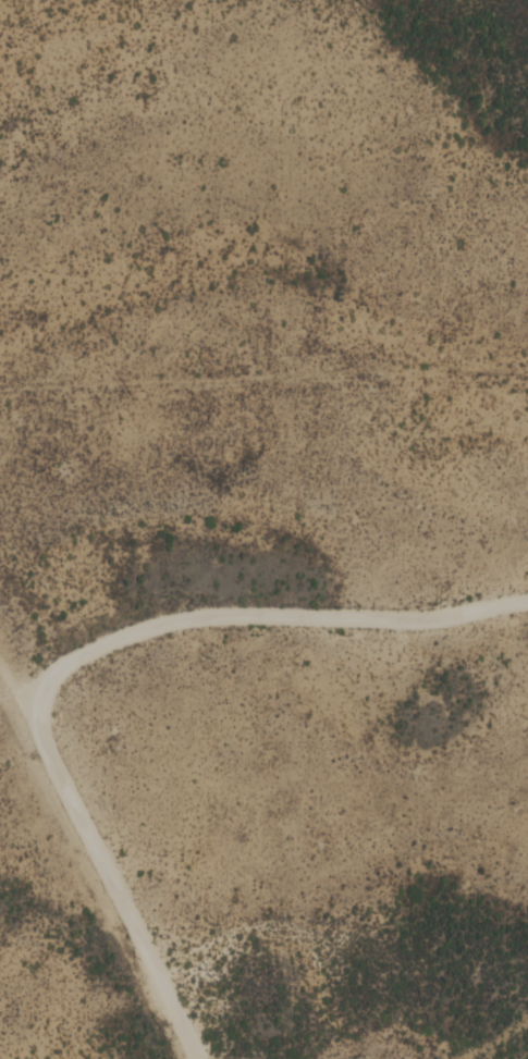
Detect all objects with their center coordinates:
road: (255, 614)
road: (110, 873)

